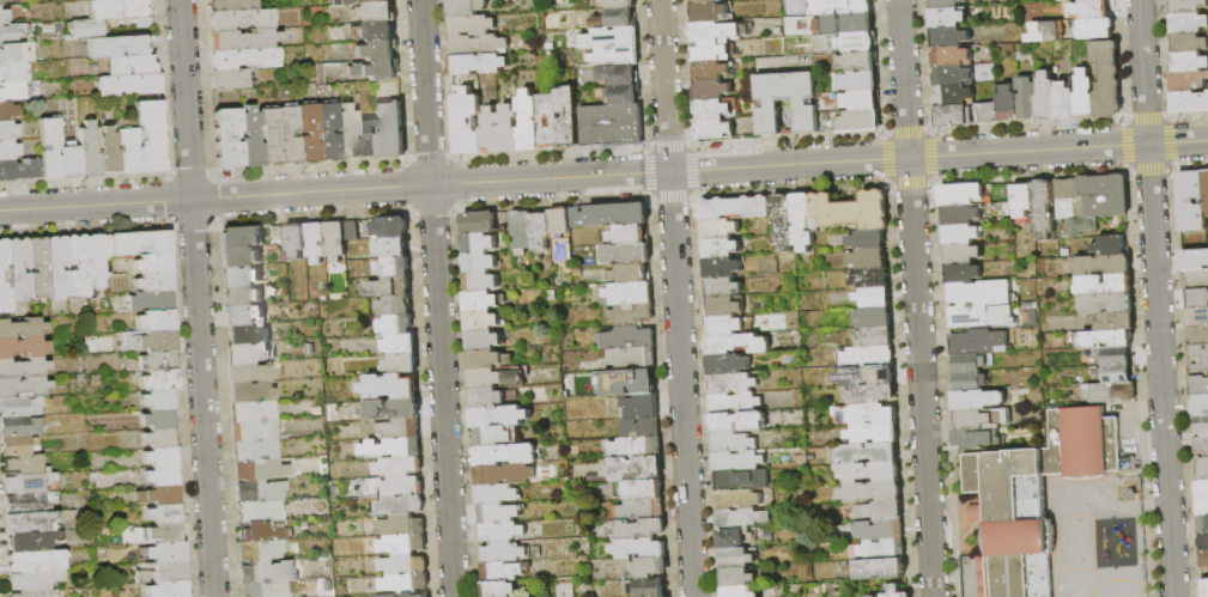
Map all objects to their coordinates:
building: (1, 0)
building: (363, 0)
building: (378, 0)
building: (721, 0)
building: (1095, 0)
building: (702, 1)
building: (1067, 1)
building: (340, 2)
building: (595, 4)
building: (617, 4)
building: (946, 4)
building: (229, 5)
building: (1188, 6)
building: (465, 7)
building: (843, 7)
building: (115, 8)
building: (1091, 10)
building: (375, 12)
building: (708, 13)
building: (4, 16)
building: (619, 18)
building: (239, 19)
building: (947, 19)
building: (597, 22)
building: (1188, 24)
building: (469, 25)
building: (846, 25)
building: (86, 28)
building: (1095, 29)
building: (377, 31)
building: (10, 32)
building: (716, 32)
building: (1045, 32)
building: (609, 38)
building: (949, 38)
building: (242, 39)
building: (858, 43)
building: (1189, 43)
building: (117, 45)
building: (475, 45)
building: (548, 47)
building: (376, 50)
building: (709, 51)
building: (16, 53)
building: (548, 55)
building: (615, 57)
building: (951, 57)
building: (244, 59)
building: (860, 62)
building: (476, 63)
building: (1189, 63)
building: (129, 65)
building: (374, 69)
building: (12, 72)
building: (710, 72)
building: (618, 75)
building: (952, 77)
building: (230, 79)
building: (1106, 80)
building: (861, 81)
building: (1189, 83)
building: (127, 84)
building: (12, 90)
building: (710, 91)
building: (322, 93)
building: (623, 95)
building: (953, 96)
building: (1085, 97)
building: (1046, 98)
building: (1026, 99)
building: (862, 102)
building: (1066, 102)
building: (1190, 103)
building: (801, 104)
building: (1008, 104)
building: (712, 110)
building: (7, 111)
building: (988, 115)
building: (566, 117)
building: (955, 117)
building: (547, 121)
building: (466, 122)
building: (528, 122)
building: (860, 122)
building: (611, 126)
building: (509, 129)
building: (7, 130)
building: (388, 130)
building: (714, 130)
building: (327, 132)
building: (491, 132)
building: (308, 133)
building: (347, 133)
building: (148, 135)
building: (289, 135)
building: (227, 136)
building: (250, 136)
building: (269, 136)
building: (366, 139)
building: (49, 147)
building: (8, 150)
building: (89, 150)
building: (127, 150)
building: (108, 151)
building: (69, 160)
building: (26, 169)
building: (6, 170)
road: (699, 170)
building: (1206, 183)
building: (1103, 187)
building: (959, 194)
building: (1067, 200)
building: (1191, 201)
building: (1021, 202)
road: (95, 205)
building: (1103, 207)
building: (1206, 207)
building: (734, 208)
building: (1043, 211)
building: (851, 212)
building: (607, 215)
building: (960, 215)
building: (803, 221)
building: (476, 223)
building: (784, 223)
building: (558, 226)
building: (389, 227)
building: (1081, 227)
building: (362, 229)
building: (539, 229)
building: (720, 230)
building: (350, 231)
building: (520, 232)
building: (627, 234)
building: (961, 234)
building: (241, 236)
building: (278, 236)
building: (334, 240)
building: (868, 240)
building: (295, 242)
building: (315, 242)
building: (139, 243)
building: (476, 243)
building: (1111, 246)
building: (389, 248)
building: (721, 249)
building: (4, 254)
building: (625, 254)
building: (961, 255)
building: (238, 257)
building: (95, 260)
building: (869, 260)
building: (1195, 261)
building: (478, 262)
building: (153, 263)
building: (75, 266)
building: (1104, 266)
building: (54, 267)
building: (391, 267)
building: (18, 268)
building: (36, 268)
building: (722, 268)
building: (629, 273)
building: (961, 274)
building: (239, 275)
building: (870, 279)
building: (1195, 280)
building: (479, 281)
building: (153, 282)
building: (1104, 286)
building: (389, 287)
building: (723, 288)
building: (625, 293)
building: (981, 294)
building: (241, 296)
building: (4, 298)
road: (196, 298)
road: (437, 298)
road: (675, 298)
building: (874, 298)
road: (916, 298)
road: (1155, 298)
building: (1197, 298)
building: (150, 300)
building: (480, 300)
building: (394, 305)
building: (1106, 305)
building: (726, 306)
building: (247, 315)
building: (631, 315)
building: (875, 317)
building: (970, 317)
building: (1198, 318)
building: (156, 321)
building: (480, 321)
building: (1115, 323)
building: (395, 325)
building: (724, 327)
building: (22, 328)
building: (247, 334)
building: (1198, 336)
building: (626, 339)
building: (874, 339)
building: (150, 340)
building: (481, 340)
building: (1103, 340)
building: (976, 342)
building: (399, 345)
building: (735, 345)
building: (23, 347)
building: (1207, 347)
building: (248, 353)
building: (1197, 353)
building: (868, 357)
building: (1115, 357)
building: (632, 358)
building: (158, 360)
building: (486, 360)
building: (400, 364)
building: (129, 365)
building: (727, 365)
building: (967, 365)
building: (23, 367)
building: (1198, 370)
building: (248, 373)
building: (1115, 374)
building: (867, 377)
building: (79, 378)
building: (494, 378)
building: (96, 379)
building: (159, 380)
building: (626, 383)
building: (969, 383)
building: (732, 384)
building: (23, 386)
building: (1198, 386)
building: (388, 388)
building: (250, 392)
building: (1110, 394)
building: (870, 396)
building: (486, 398)
building: (157, 400)
building: (977, 401)
building: (734, 403)
building: (1200, 406)
building: (19, 407)
building: (639, 408)
building: (391, 409)
building: (251, 412)
building: (867, 415)
building: (498, 416)
building: (158, 419)
building: (982, 419)
building: (737, 422)
building: (19, 426)
building: (1201, 426)
building: (639, 428)
building: (399, 430)
building: (254, 431)
building: (874, 434)
building: (490, 437)
building: (159, 438)
building: (976, 439)
building: (732, 443)
building: (17, 445)
building: (1201, 446)
building: (636, 447)
building: (390, 449)
building: (254, 450)
building: (869, 453)
building: (503, 455)
building: (159, 456)
building: (737, 462)
building: (25, 464)
building: (396, 467)
building: (633, 469)
building: (257, 470)
building: (1202, 470)
building: (869, 473)
building: (160, 475)
building: (503, 475)
building: (741, 481)
building: (28, 483)
building: (391, 487)
building: (639, 489)
building: (1201, 491)
building: (259, 492)
building: (870, 493)
building: (494, 494)
building: (158, 495)
building: (1034, 498)
building: (737, 500)
building: (29, 502)
building: (400, 506)
building: (1202, 507)
building: (641, 510)
building: (259, 511)
building: (880, 511)
building: (163, 513)
building: (497, 513)
building: (978, 513)
building: (741, 519)
building: (29, 522)
building: (1202, 524)
building: (401, 526)
building: (638, 529)
building: (261, 530)
building: (293, 530)
road: (970, 530)
building: (499, 531)
building: (880, 531)
building: (164, 532)
building: (287, 534)
building: (732, 540)
building: (30, 541)
building: (1203, 542)
building: (402, 544)
building: (638, 549)
building: (260, 550)
building: (882, 550)
building: (164, 552)
building: (502, 553)
building: (736, 559)
building: (1203, 559)
building: (35, 560)
building: (402, 565)
building: (648, 567)
building: (876, 569)
building: (169, 571)
building: (500, 571)
building: (266, 572)
building: (140, 575)
building: (737, 578)
building: (36, 579)
building: (405, 584)
building: (561, 587)
building: (648, 587)
building: (1204, 587)
building: (166, 589)
building: (498, 589)
building: (265, 590)
building: (739, 592)
building: (896, 592)
building: (35, 593)
building: (389, 596)
building: (408, 596)
building: (423, 596)
building: (872, 596)

